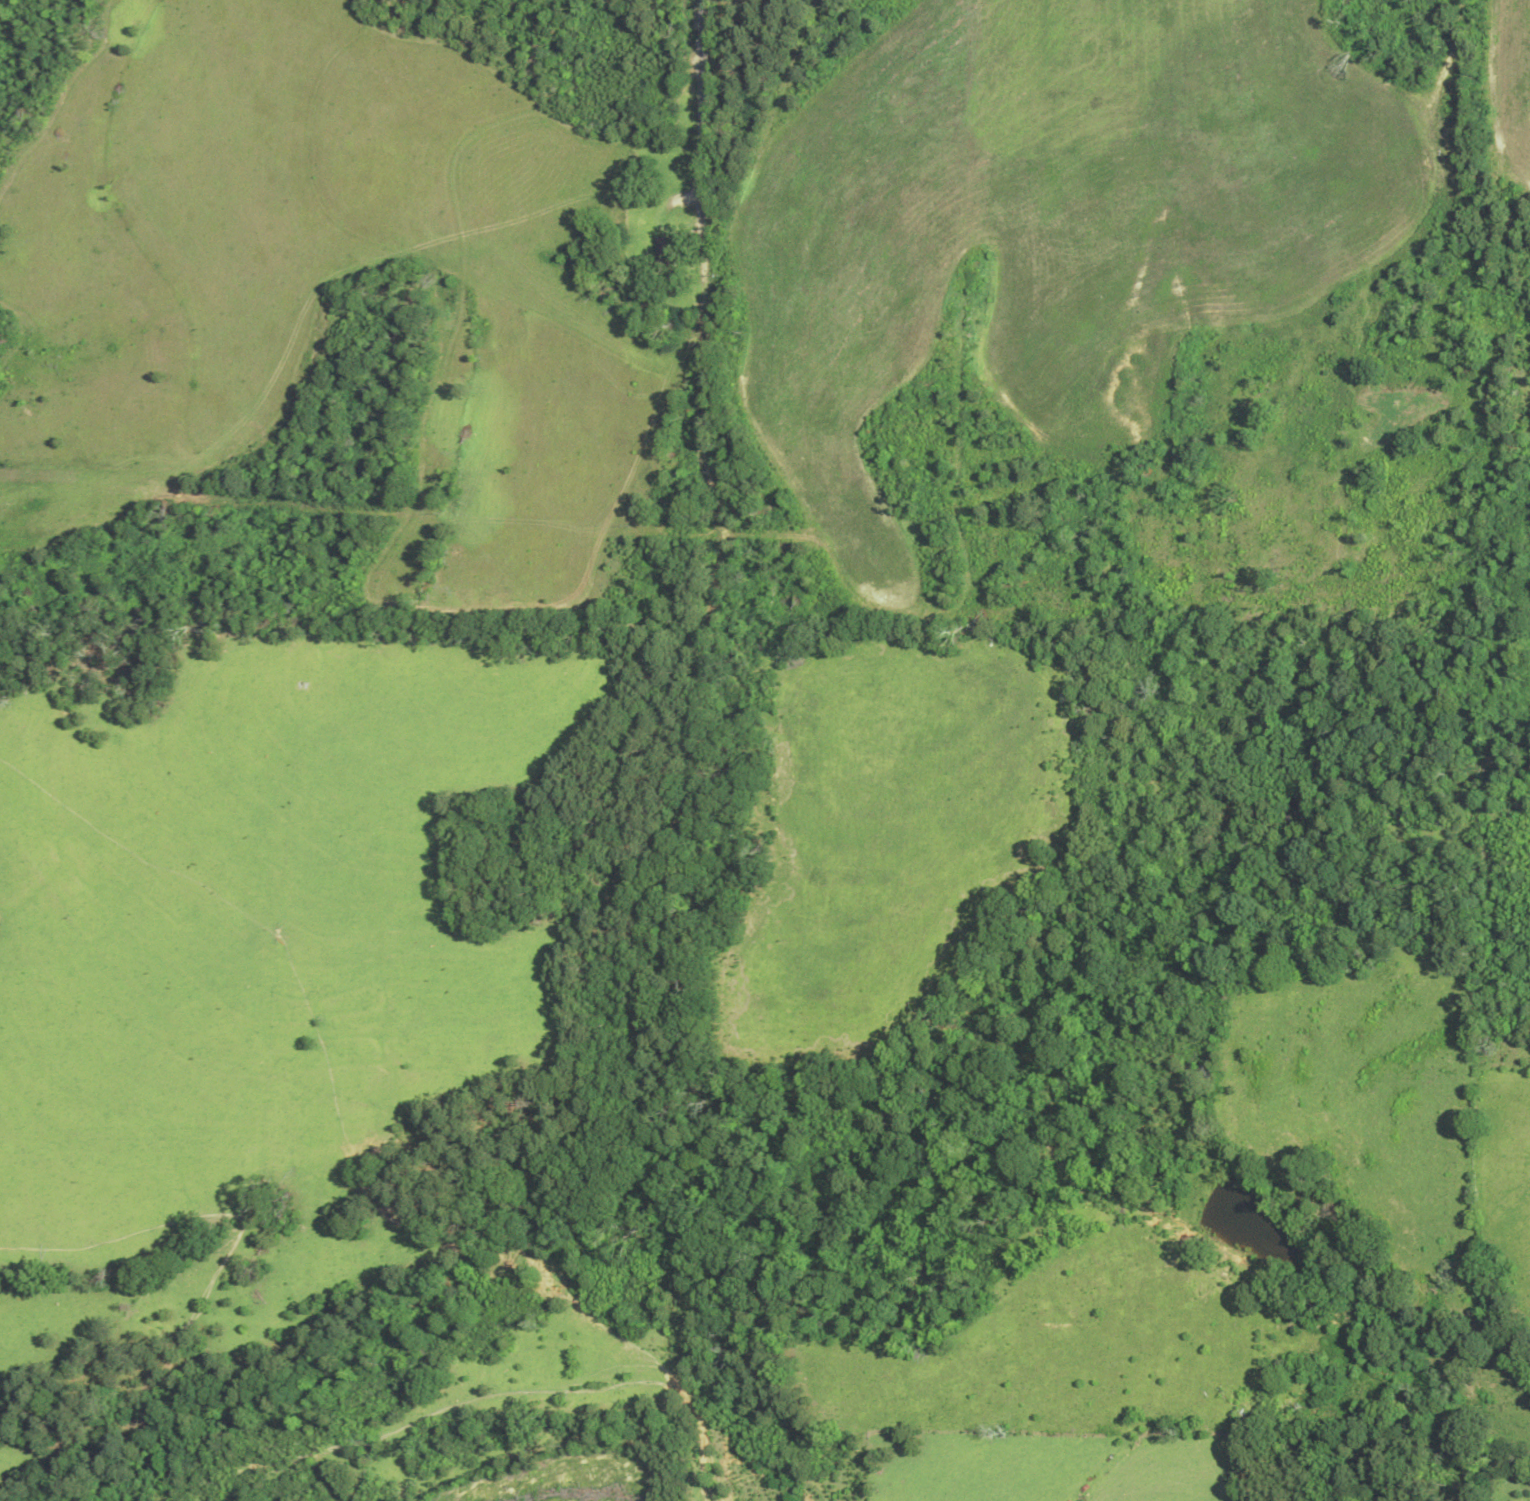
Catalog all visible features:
building: (665, 252)
road: (711, 461)
building: (1512, 1500)

